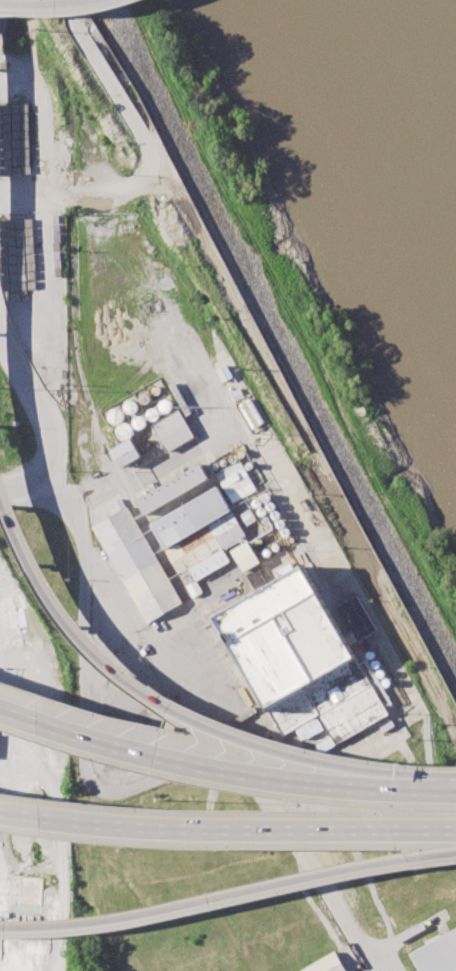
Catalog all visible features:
road: (62, 11)
road: (79, 24)
road: (37, 97)
river: (400, 110)
road: (145, 180)
building: (225, 373)
road: (36, 382)
building: (173, 430)
building: (126, 452)
road: (46, 468)
building: (238, 480)
road: (21, 485)
building: (175, 489)
road: (101, 491)
building: (204, 539)
building: (138, 563)
building: (358, 618)
road: (150, 635)
building: (301, 656)
road: (162, 703)
road: (211, 768)
road: (443, 791)
road: (227, 827)
road: (273, 885)
road: (44, 924)
building: (438, 954)
building: (326, 964)

